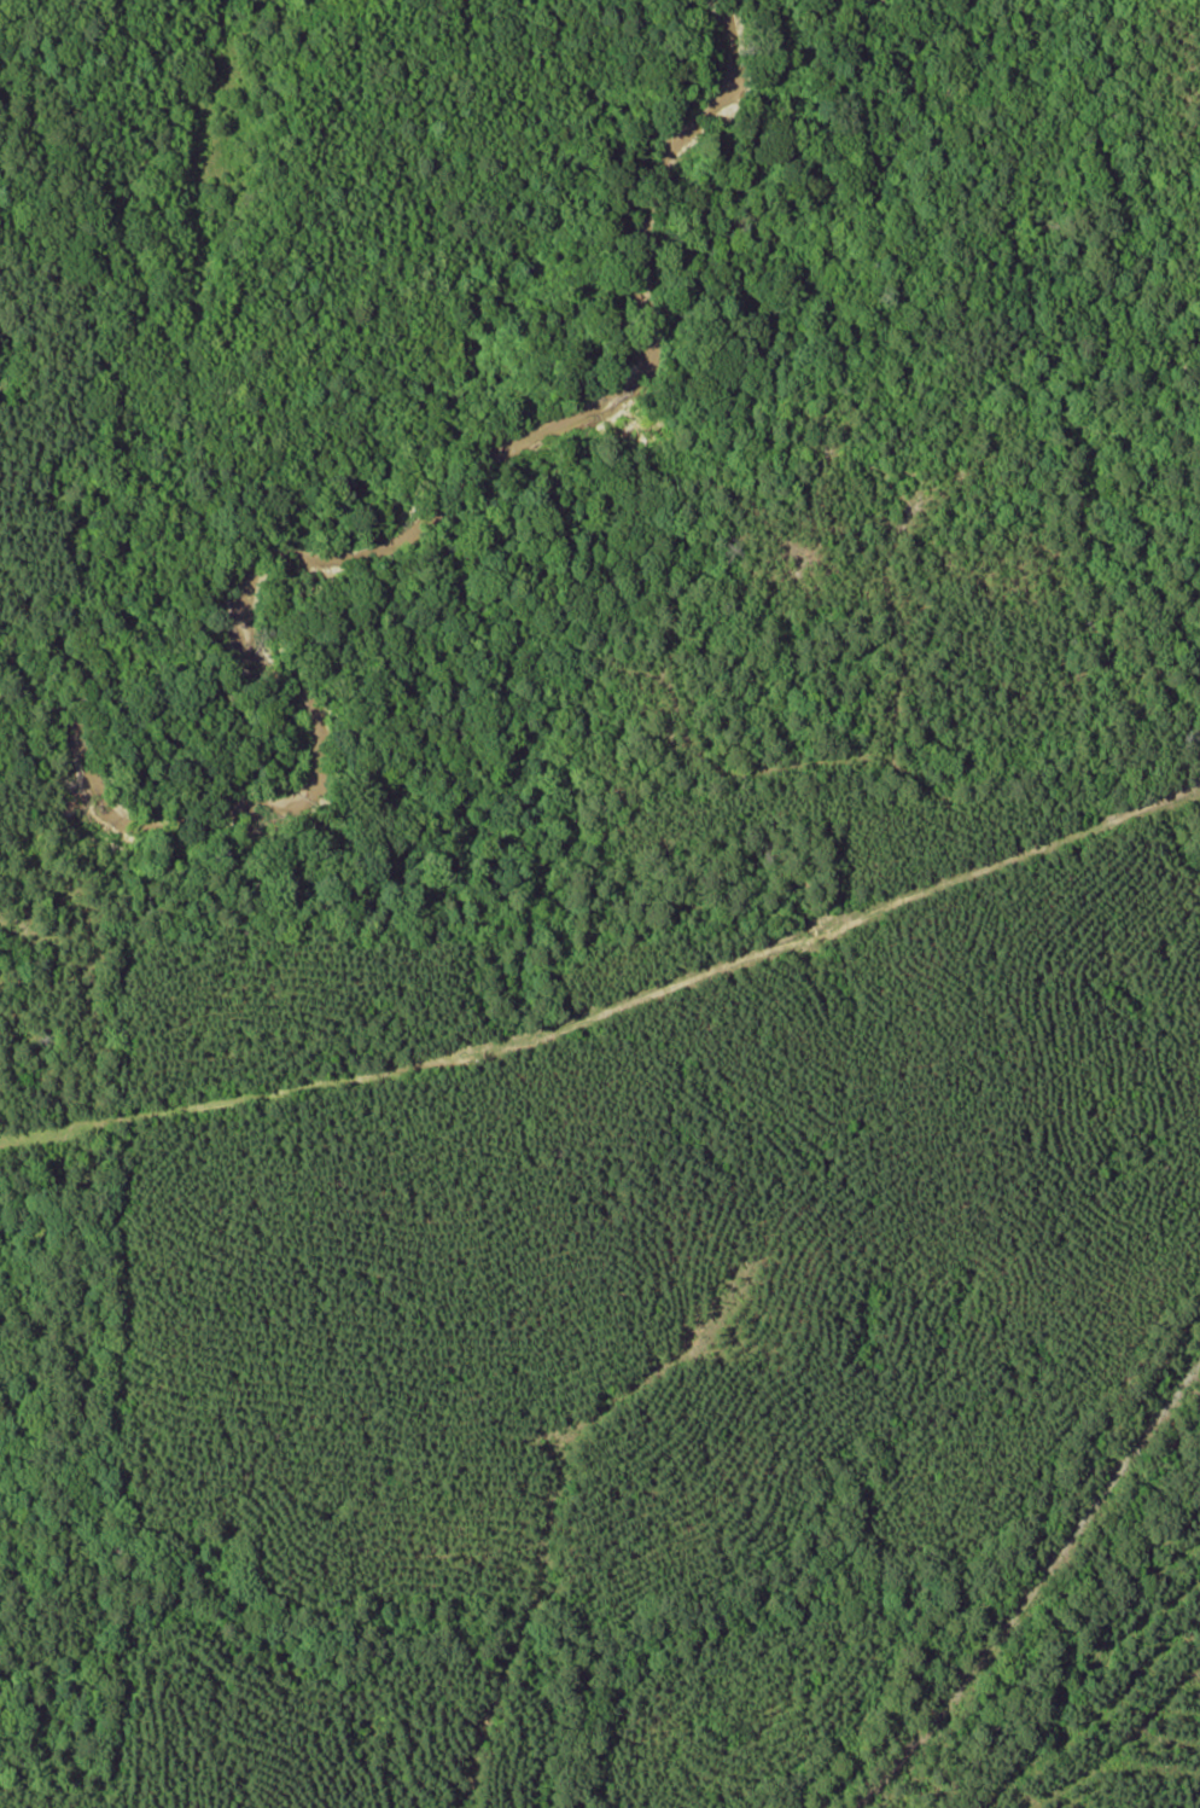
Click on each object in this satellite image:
railway: (1033, 1588)

